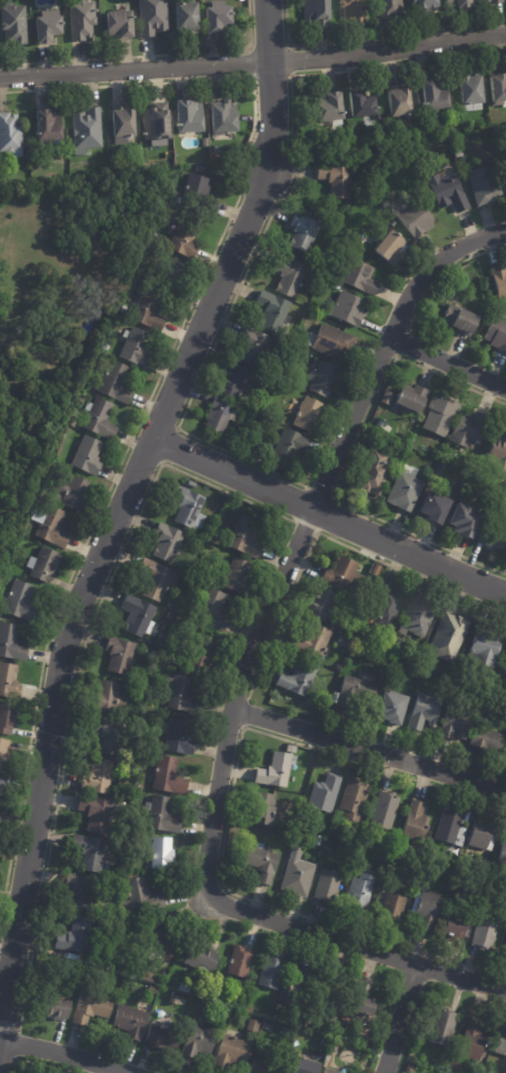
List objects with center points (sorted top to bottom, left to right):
building: (490, 2)
building: (457, 3)
building: (425, 4)
building: (388, 9)
building: (351, 10)
building: (316, 12)
building: (187, 17)
building: (153, 18)
building: (218, 18)
building: (82, 20)
building: (13, 22)
building: (120, 24)
building: (49, 28)
road: (254, 63)
building: (497, 88)
building: (468, 91)
building: (433, 97)
building: (397, 102)
building: (358, 106)
building: (328, 108)
building: (189, 115)
building: (226, 116)
building: (249, 120)
building: (158, 122)
building: (123, 123)
building: (48, 125)
building: (88, 129)
building: (11, 135)
building: (202, 168)
building: (416, 171)
building: (334, 180)
building: (479, 187)
building: (199, 189)
building: (445, 193)
building: (415, 219)
building: (301, 234)
building: (186, 241)
building: (341, 241)
building: (387, 248)
building: (176, 271)
building: (287, 276)
building: (356, 277)
building: (498, 282)
building: (336, 288)
building: (472, 305)
building: (346, 309)
building: (125, 310)
building: (149, 310)
building: (316, 311)
building: (270, 312)
building: (460, 321)
building: (496, 332)
building: (301, 338)
building: (327, 341)
building: (108, 347)
building: (137, 347)
building: (251, 347)
building: (33, 359)
road: (447, 362)
building: (321, 378)
building: (231, 381)
building: (117, 385)
building: (409, 397)
building: (218, 415)
building: (306, 415)
building: (437, 416)
building: (102, 418)
building: (465, 428)
building: (257, 438)
building: (288, 446)
building: (63, 448)
building: (496, 453)
building: (88, 456)
building: (373, 473)
building: (188, 484)
building: (498, 491)
building: (75, 493)
building: (403, 493)
building: (185, 507)
building: (430, 507)
road: (117, 508)
road: (327, 515)
building: (459, 520)
building: (56, 528)
building: (492, 536)
building: (245, 538)
building: (217, 540)
building: (165, 543)
building: (46, 565)
building: (1, 568)
building: (374, 572)
building: (336, 574)
building: (6, 576)
building: (235, 577)
building: (153, 582)
building: (194, 585)
building: (21, 603)
building: (318, 604)
building: (169, 606)
building: (385, 608)
building: (210, 609)
building: (137, 616)
building: (169, 617)
building: (415, 619)
building: (351, 633)
building: (445, 637)
building: (344, 640)
building: (310, 642)
building: (11, 644)
building: (484, 648)
building: (201, 652)
building: (118, 655)
building: (505, 660)
building: (297, 678)
building: (10, 680)
road: (236, 680)
building: (173, 692)
building: (354, 692)
building: (308, 696)
building: (103, 697)
building: (391, 708)
building: (424, 713)
building: (7, 718)
building: (457, 722)
building: (105, 735)
building: (175, 738)
building: (485, 739)
road: (367, 751)
building: (4, 755)
building: (505, 756)
building: (272, 772)
building: (167, 776)
building: (96, 777)
building: (3, 783)
building: (323, 795)
building: (351, 801)
building: (259, 809)
building: (383, 812)
building: (90, 814)
building: (161, 816)
building: (0, 818)
building: (415, 823)
building: (450, 829)
building: (477, 835)
building: (318, 842)
building: (500, 848)
building: (381, 850)
building: (226, 852)
building: (85, 853)
building: (159, 854)
building: (259, 864)
building: (130, 875)
building: (296, 876)
building: (326, 886)
building: (77, 891)
building: (357, 894)
building: (138, 898)
building: (391, 908)
building: (427, 911)
building: (452, 930)
building: (480, 935)
building: (70, 937)
building: (153, 945)
building: (503, 948)
building: (199, 957)
building: (237, 962)
building: (269, 973)
building: (304, 976)
building: (147, 981)
building: (149, 991)
building: (215, 999)
building: (171, 1000)
building: (327, 1001)
building: (359, 1002)
building: (54, 1007)
building: (89, 1010)
building: (247, 1011)
road: (398, 1020)
building: (129, 1023)
building: (343, 1024)
building: (266, 1025)
building: (250, 1027)
building: (440, 1030)
building: (159, 1035)
building: (198, 1042)
building: (469, 1043)
building: (502, 1044)
building: (333, 1046)
building: (300, 1050)
road: (65, 1053)
building: (230, 1054)
building: (264, 1065)
building: (300, 1066)
building: (453, 1067)
building: (408, 1070)
building: (485, 1071)
building: (327, 1072)

